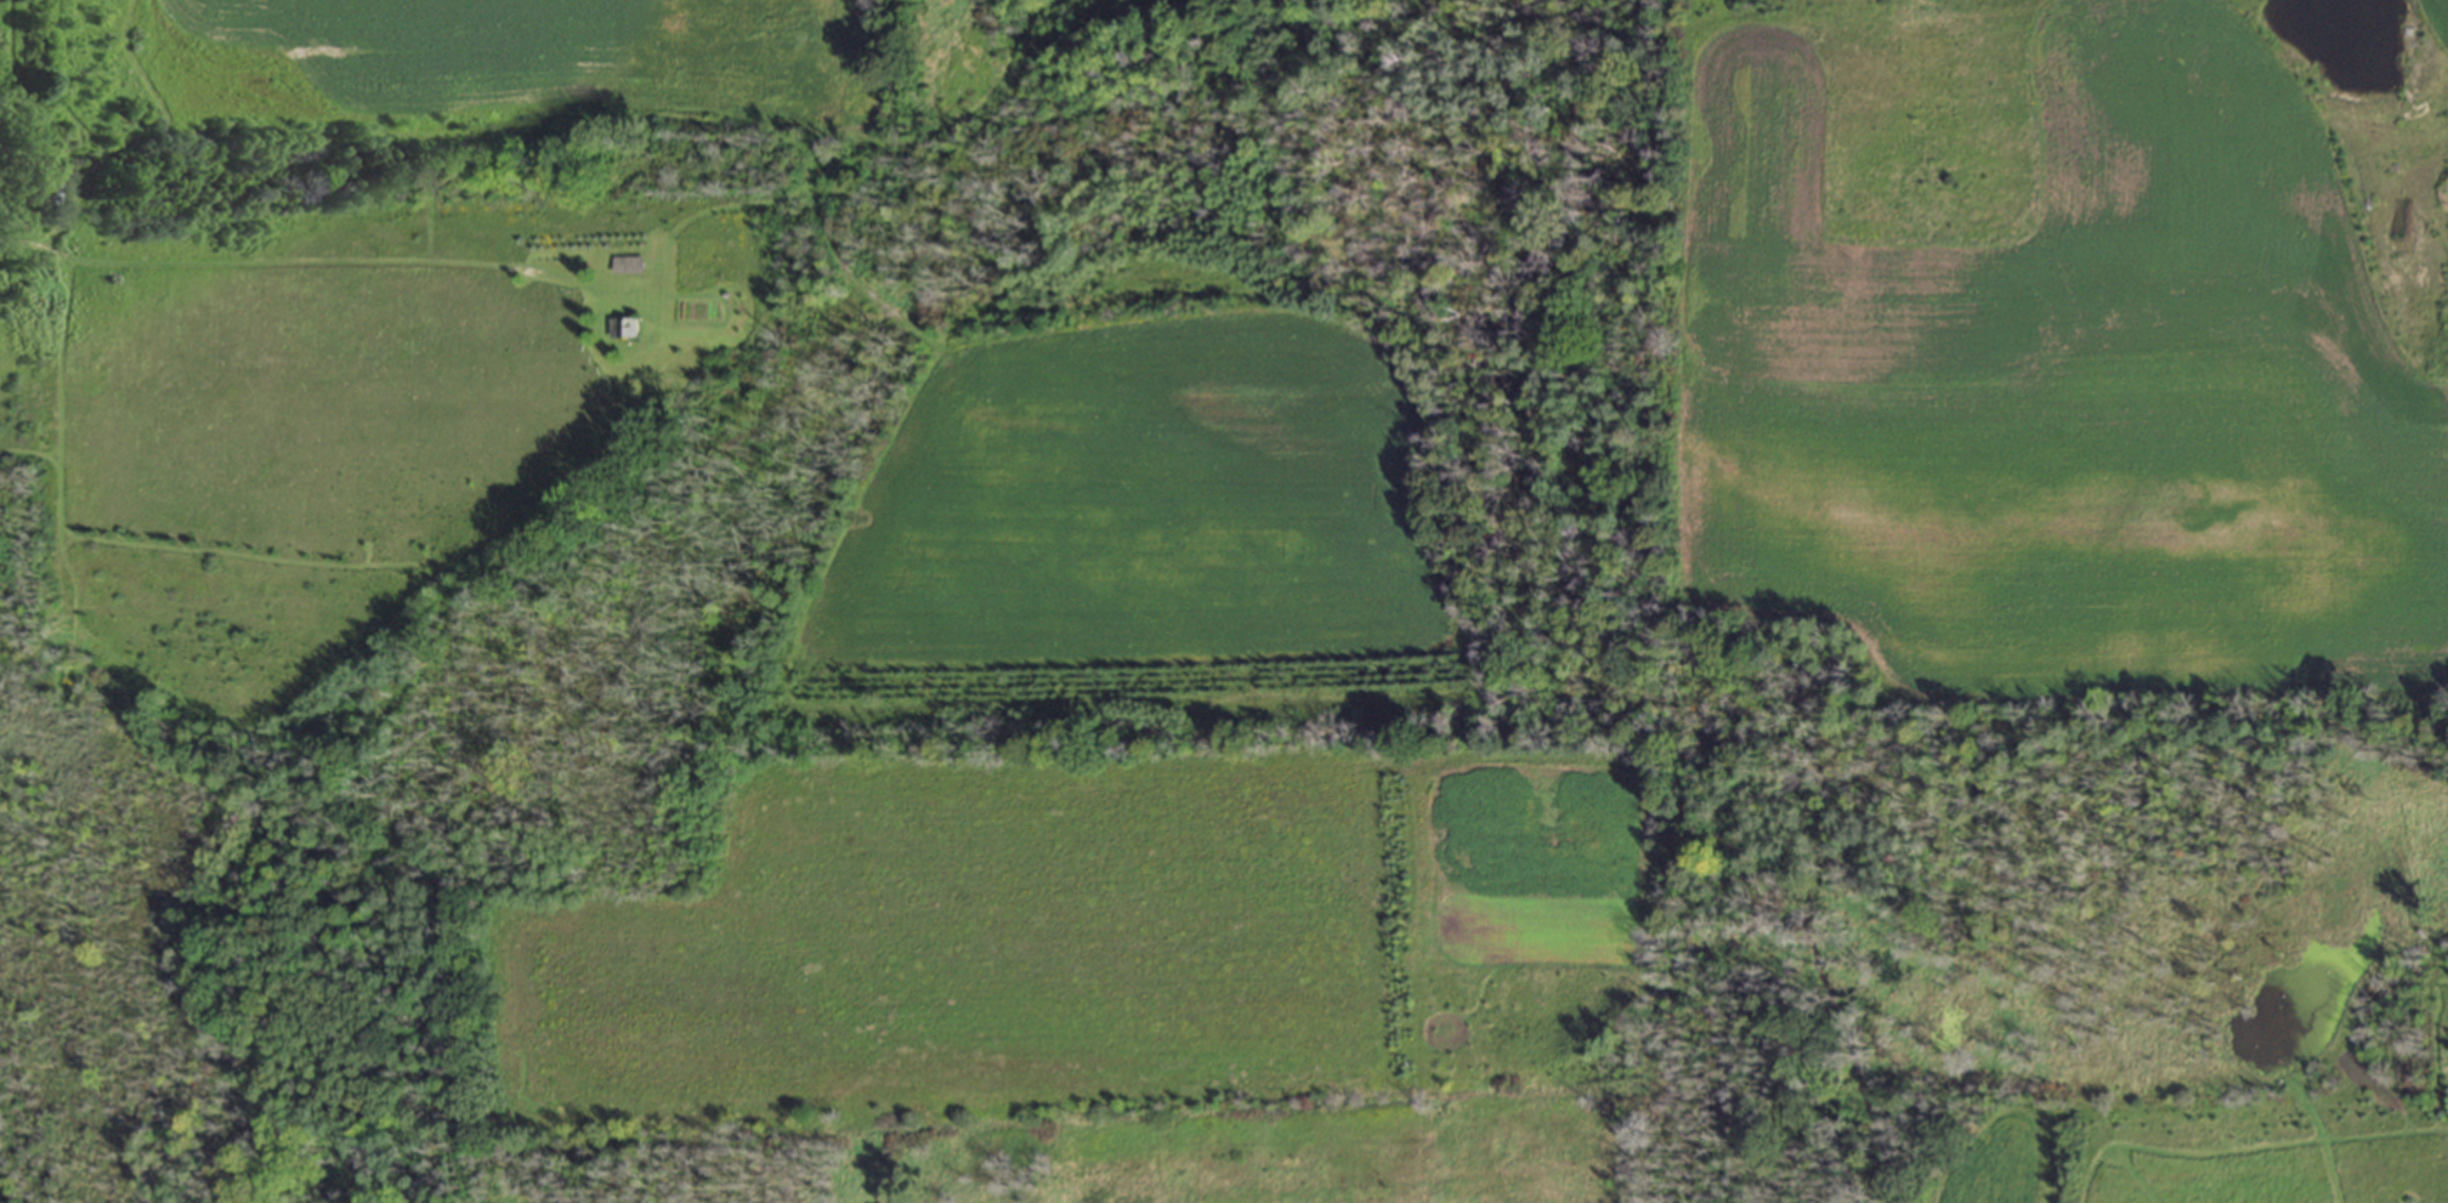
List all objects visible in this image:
building: (623, 265)
building: (619, 329)

